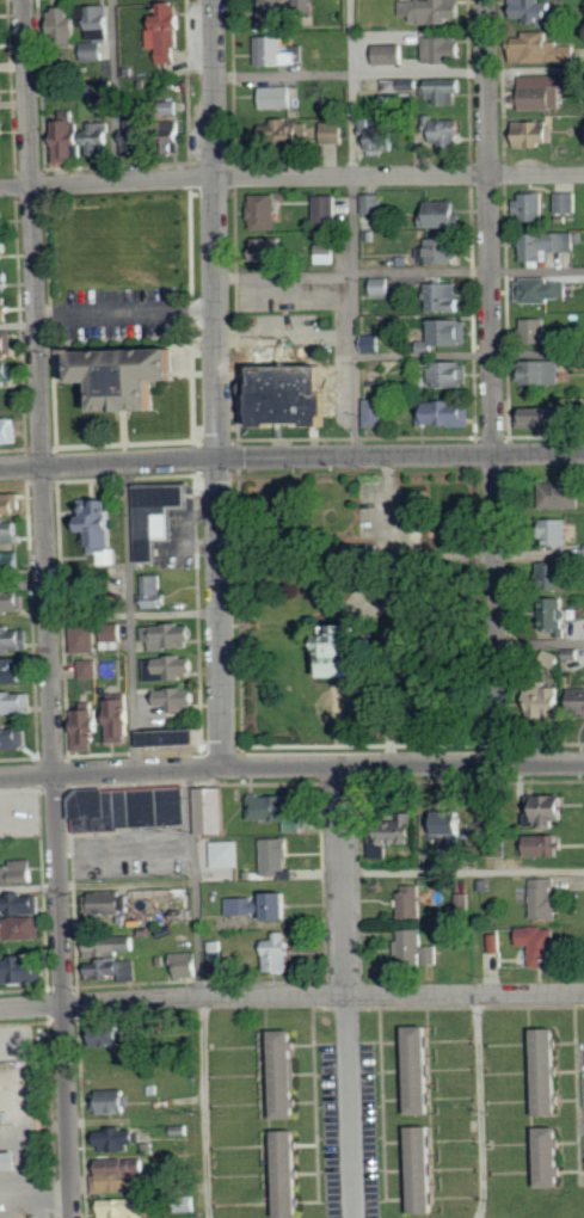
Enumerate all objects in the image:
building: (434, 10)
building: (282, 11)
building: (536, 11)
building: (103, 17)
building: (64, 20)
building: (168, 32)
building: (1, 44)
building: (443, 48)
building: (546, 48)
building: (93, 51)
building: (279, 51)
building: (392, 54)
road: (399, 73)
building: (408, 86)
building: (448, 88)
building: (0, 91)
road: (115, 91)
building: (542, 91)
building: (278, 97)
building: (4, 124)
building: (284, 133)
building: (333, 133)
building: (450, 133)
building: (534, 133)
building: (140, 134)
building: (82, 139)
building: (2, 153)
road: (291, 177)
building: (567, 201)
building: (373, 203)
building: (531, 207)
building: (327, 209)
building: (265, 211)
building: (443, 214)
building: (1, 220)
road: (351, 228)
road: (215, 229)
building: (547, 244)
building: (7, 247)
building: (270, 248)
building: (441, 251)
road: (399, 272)
building: (6, 278)
building: (381, 285)
building: (541, 289)
building: (445, 296)
building: (5, 309)
road: (18, 322)
building: (536, 330)
building: (451, 331)
road: (285, 337)
building: (7, 343)
building: (374, 344)
road: (468, 353)
building: (121, 370)
building: (540, 371)
building: (451, 373)
building: (8, 374)
road: (492, 382)
building: (295, 394)
building: (376, 412)
building: (447, 413)
building: (543, 417)
building: (10, 430)
road: (400, 456)
road: (109, 463)
building: (564, 494)
building: (11, 504)
building: (418, 509)
building: (159, 516)
building: (103, 529)
building: (11, 531)
building: (560, 531)
road: (393, 555)
building: (10, 564)
building: (553, 570)
road: (23, 582)
building: (154, 590)
building: (12, 602)
road: (48, 608)
road: (134, 611)
road: (371, 611)
road: (221, 613)
road: (129, 616)
building: (111, 636)
building: (171, 636)
building: (14, 638)
building: (86, 639)
road: (541, 641)
building: (349, 642)
building: (173, 668)
building: (90, 669)
building: (14, 671)
building: (180, 699)
building: (577, 700)
building: (546, 702)
building: (16, 703)
building: (119, 719)
building: (90, 730)
building: (173, 737)
building: (14, 738)
road: (291, 765)
building: (133, 808)
building: (213, 810)
building: (281, 810)
building: (554, 810)
building: (449, 823)
building: (398, 833)
building: (545, 845)
building: (226, 854)
building: (276, 857)
road: (463, 869)
building: (19, 872)
road: (29, 885)
building: (546, 898)
building: (412, 900)
building: (106, 903)
building: (24, 904)
building: (462, 904)
building: (264, 905)
building: (542, 943)
building: (111, 946)
building: (215, 949)
building: (414, 949)
building: (281, 953)
building: (186, 965)
building: (110, 968)
building: (21, 970)
road: (345, 991)
road: (201, 992)
road: (291, 996)
building: (111, 1035)
building: (417, 1069)
building: (543, 1071)
building: (282, 1072)
building: (113, 1101)
road: (479, 1106)
road: (35, 1125)
building: (119, 1138)
building: (546, 1156)
building: (8, 1158)
building: (419, 1168)
building: (284, 1173)
building: (127, 1177)
building: (125, 1207)

